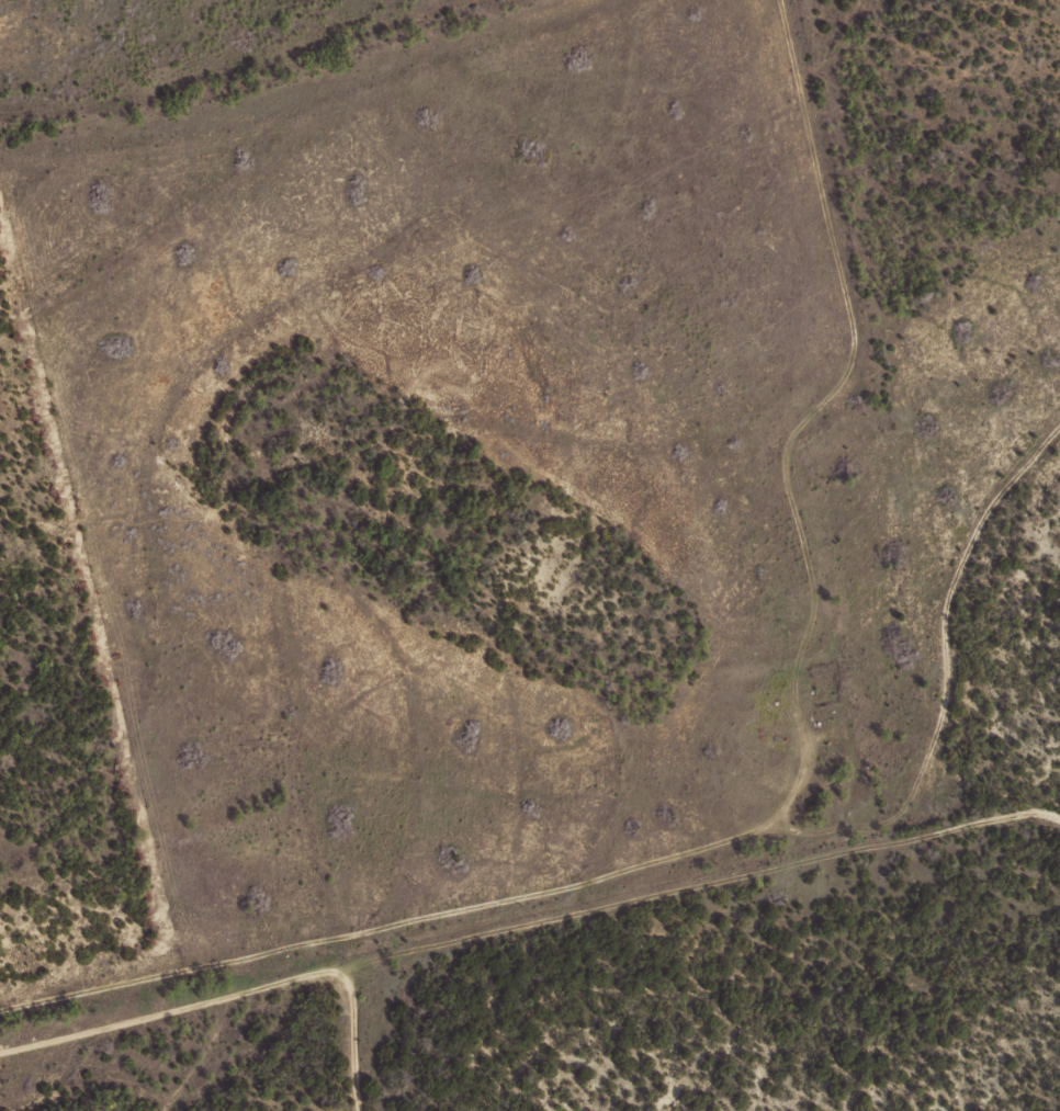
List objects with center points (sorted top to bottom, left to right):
road: (808, 804)

